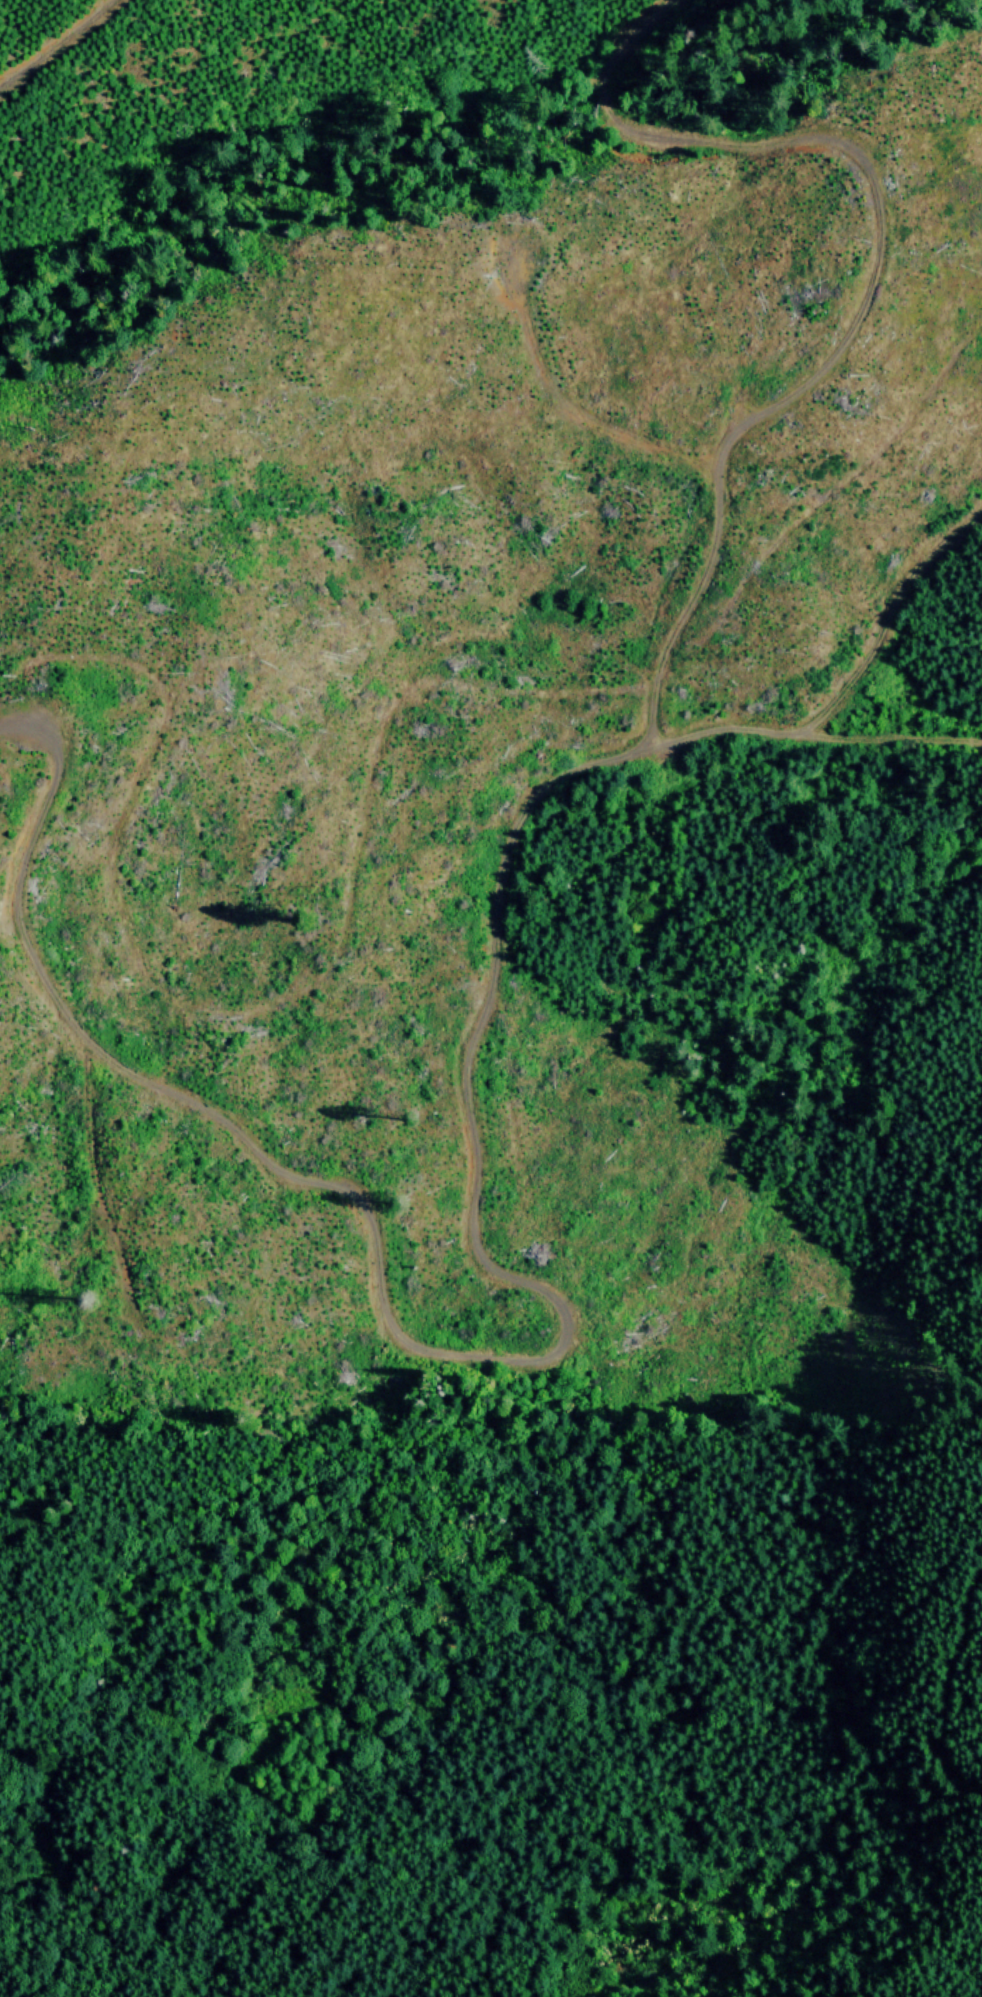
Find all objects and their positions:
road: (57, 45)
road: (870, 270)
road: (898, 623)
road: (733, 737)
road: (896, 740)
road: (422, 1356)

